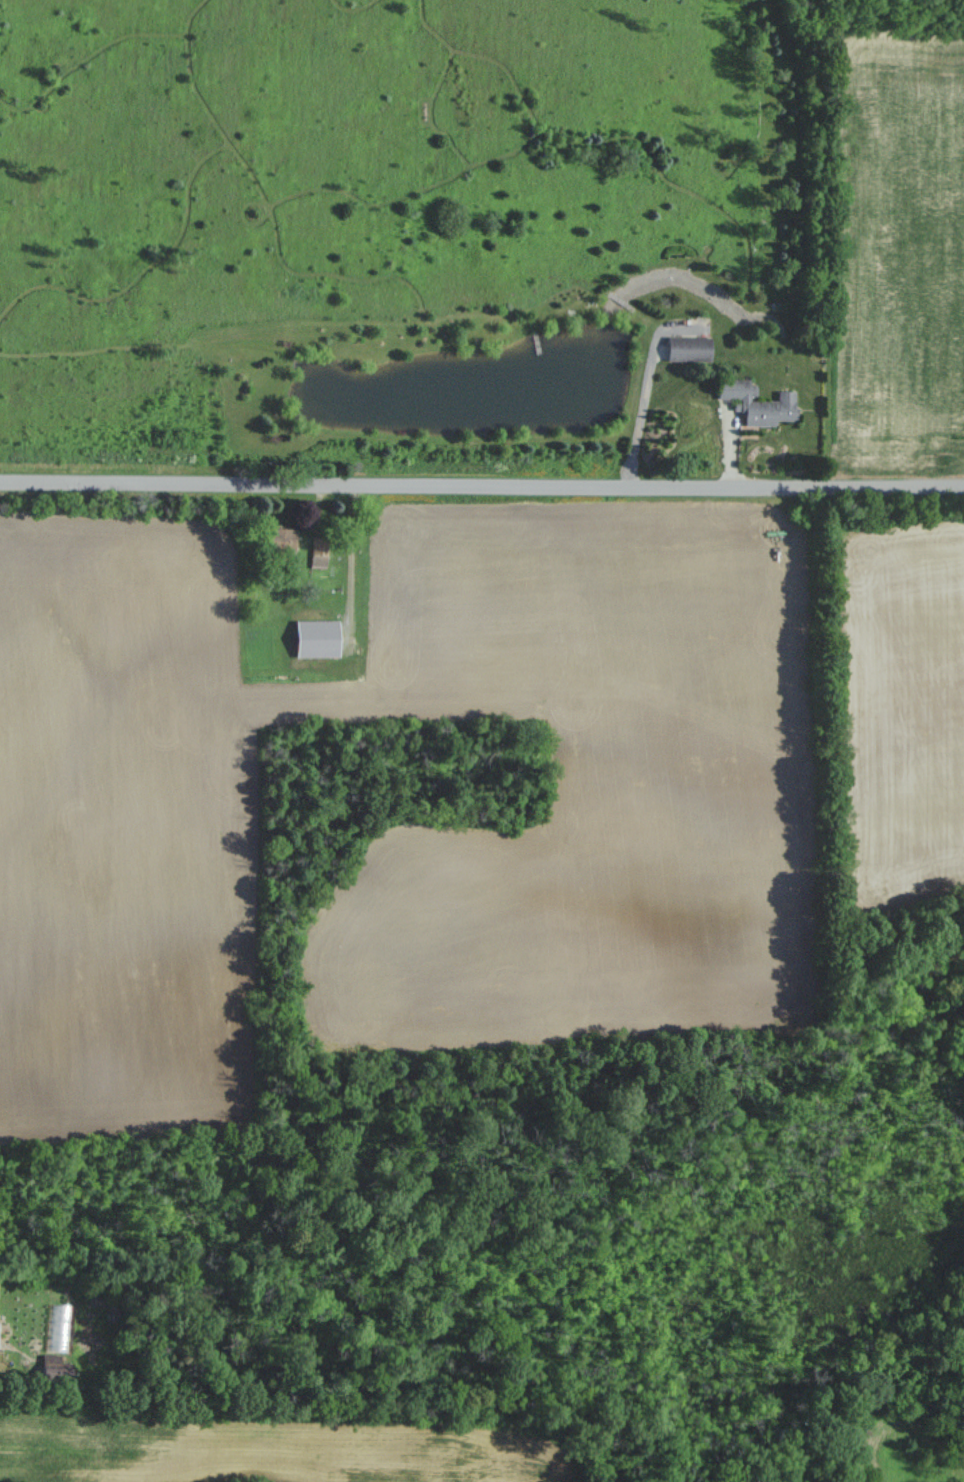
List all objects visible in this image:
building: (689, 348)
road: (643, 387)
building: (759, 402)
road: (482, 485)
building: (287, 539)
building: (319, 550)

